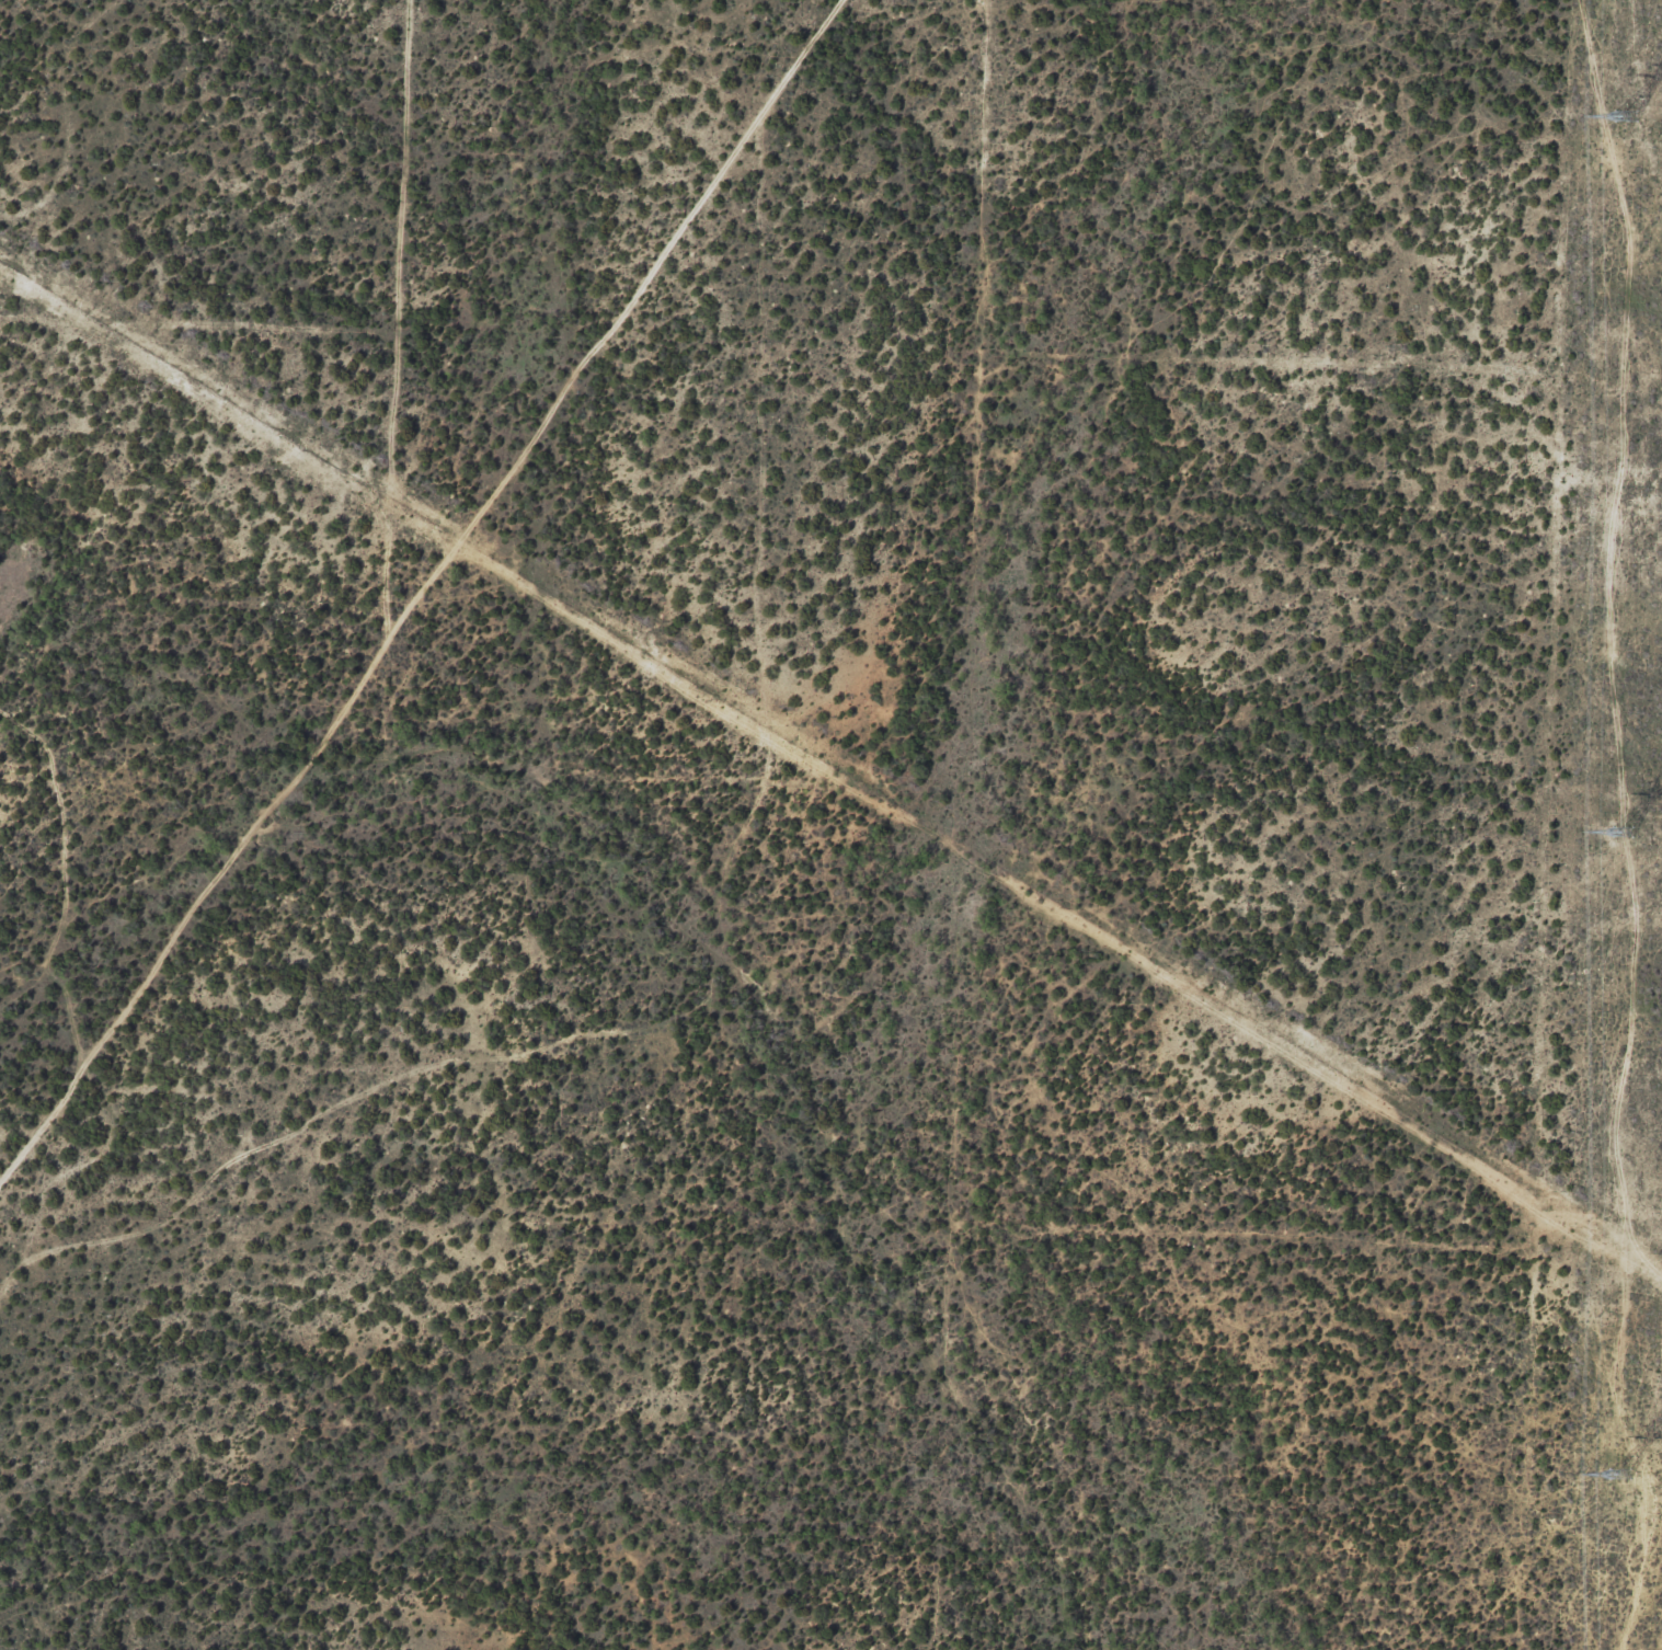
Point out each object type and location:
power tower: (1627, 117)
power tower: (1624, 830)
road: (95, 1024)
power tower: (1618, 1475)

